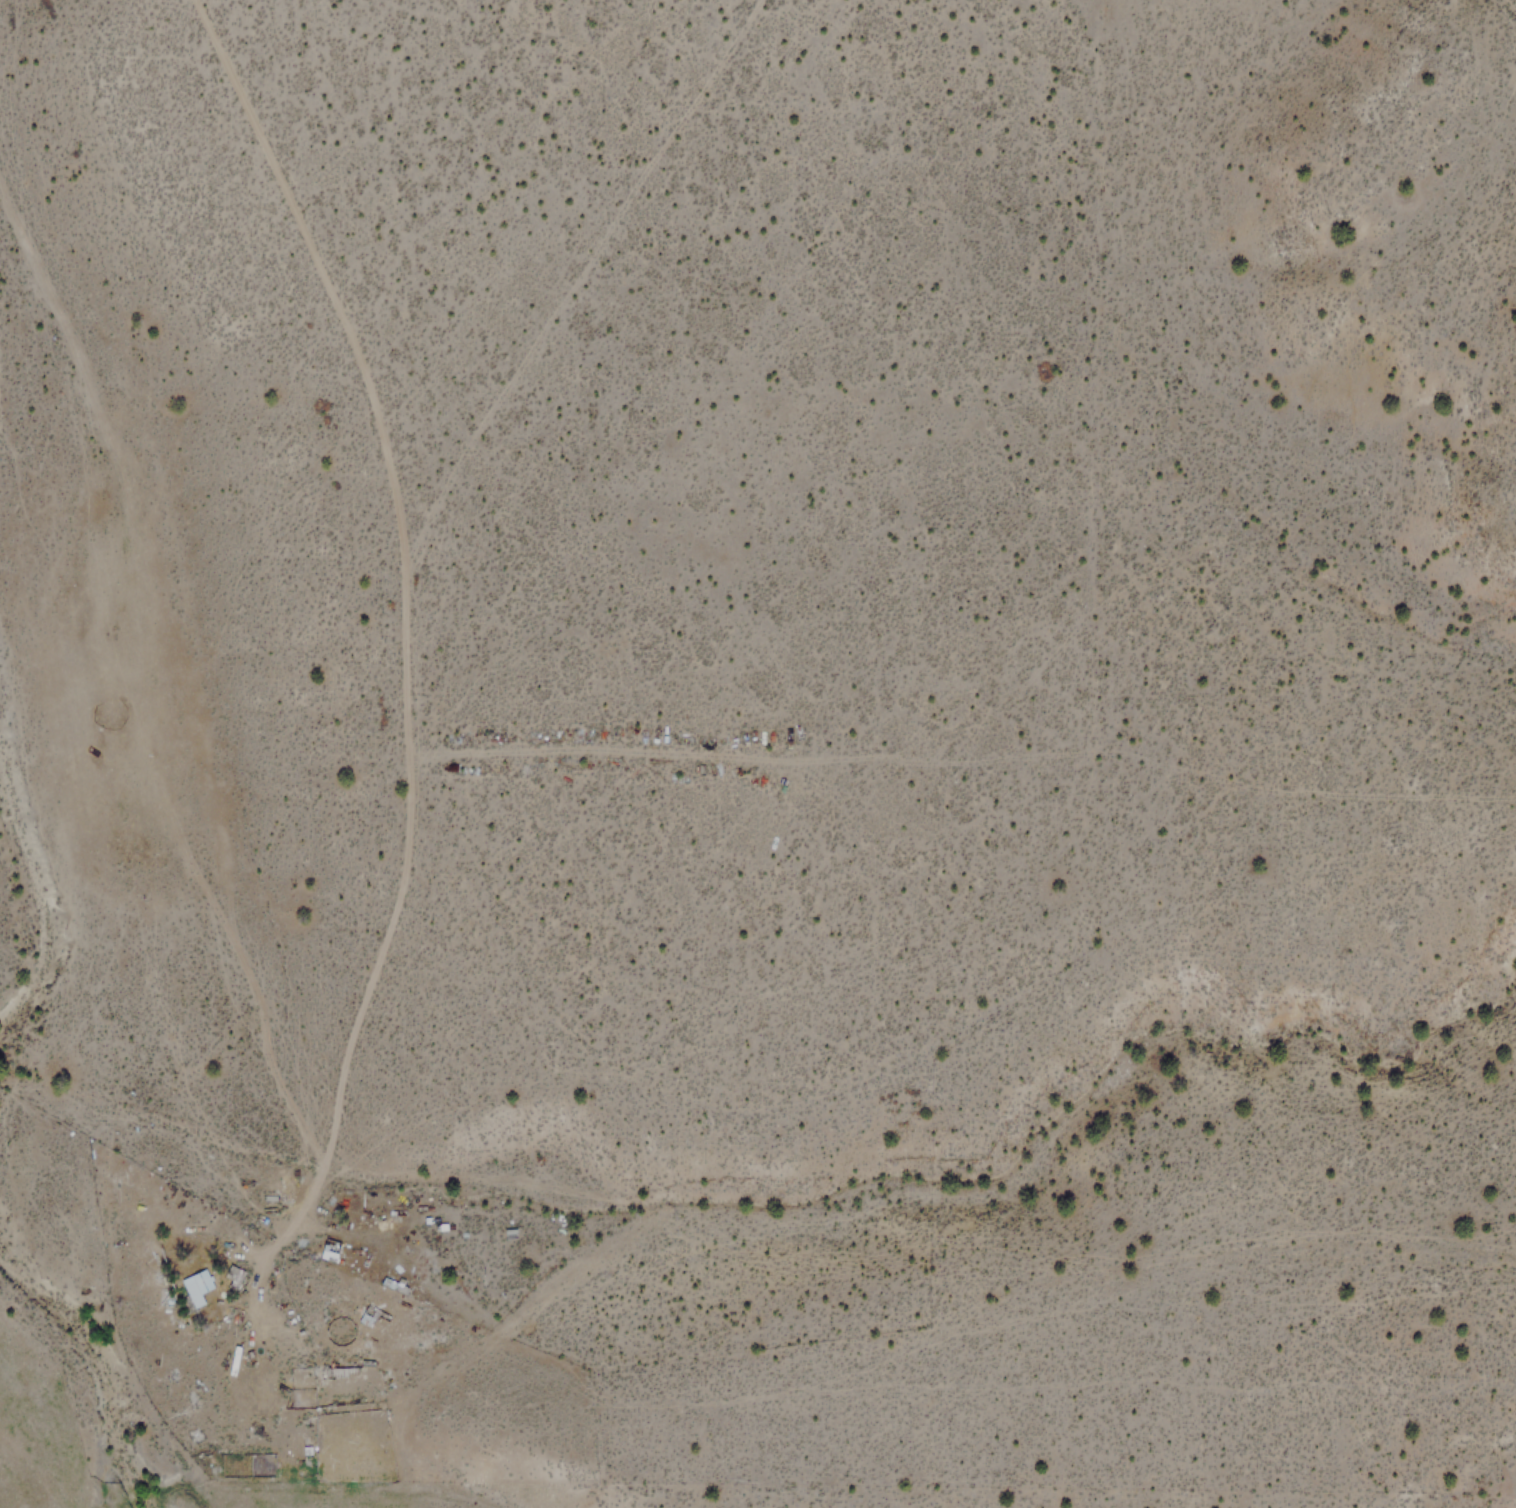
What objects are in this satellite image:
building: (332, 1251)
building: (200, 1287)
building: (237, 1361)

